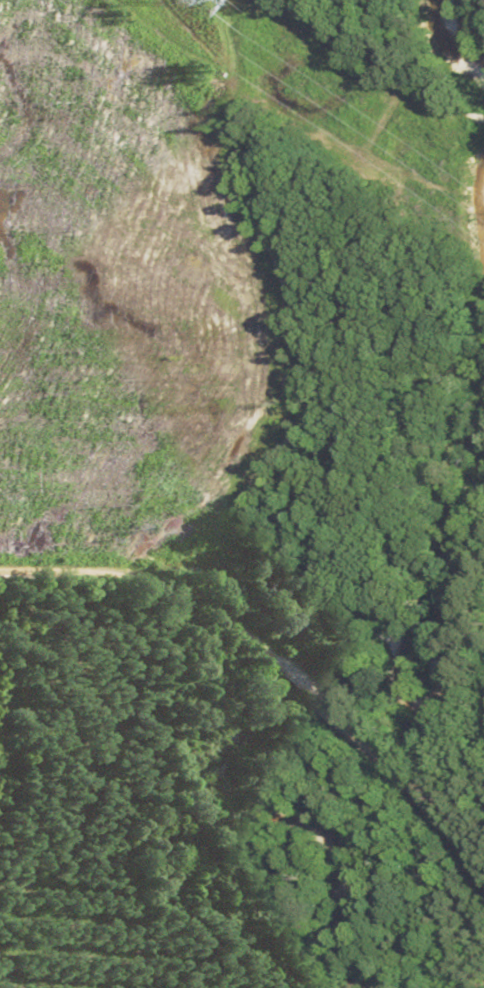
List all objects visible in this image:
road: (148, 573)
road: (290, 675)
road: (398, 779)

